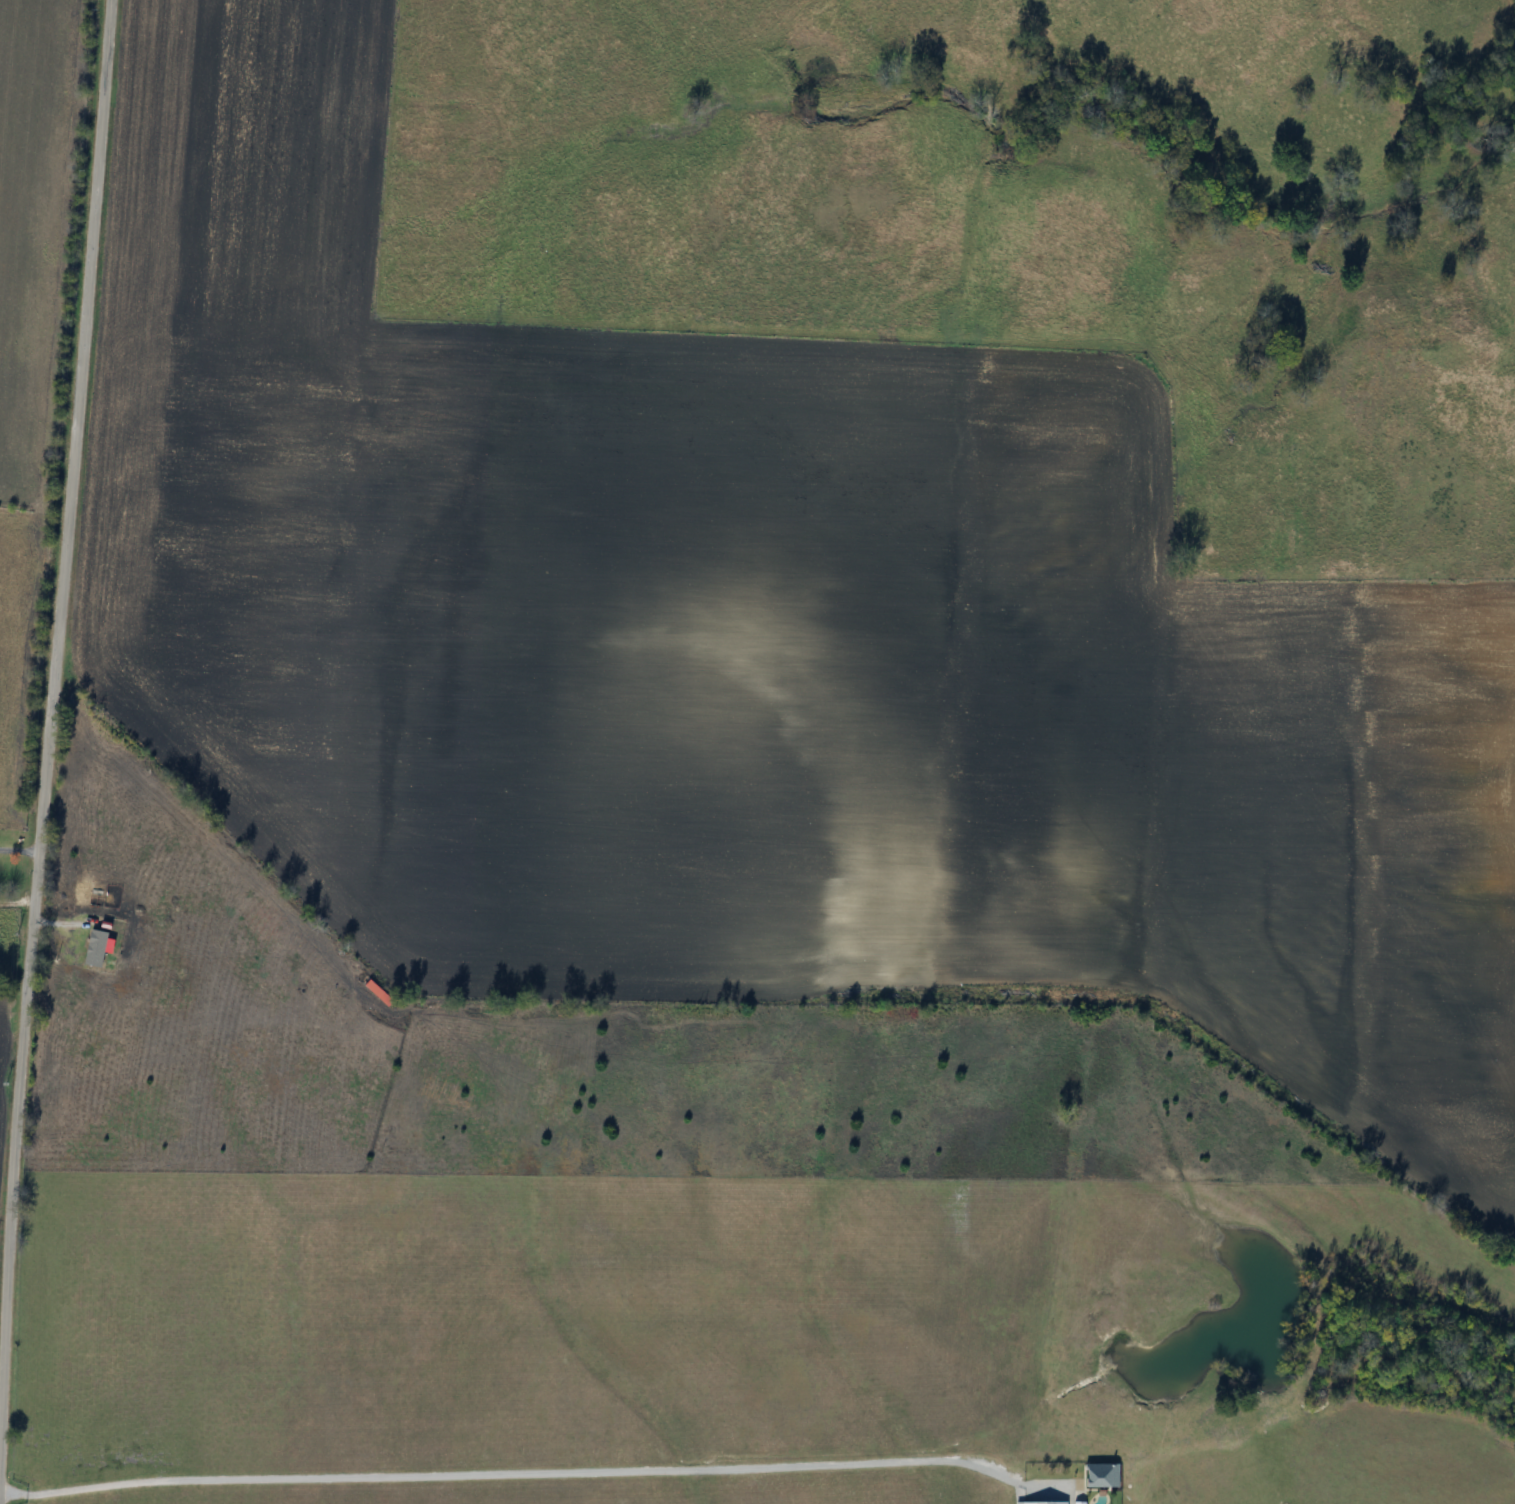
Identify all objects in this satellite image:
road: (49, 727)
road: (17, 900)
road: (506, 1473)
building: (1043, 1502)

